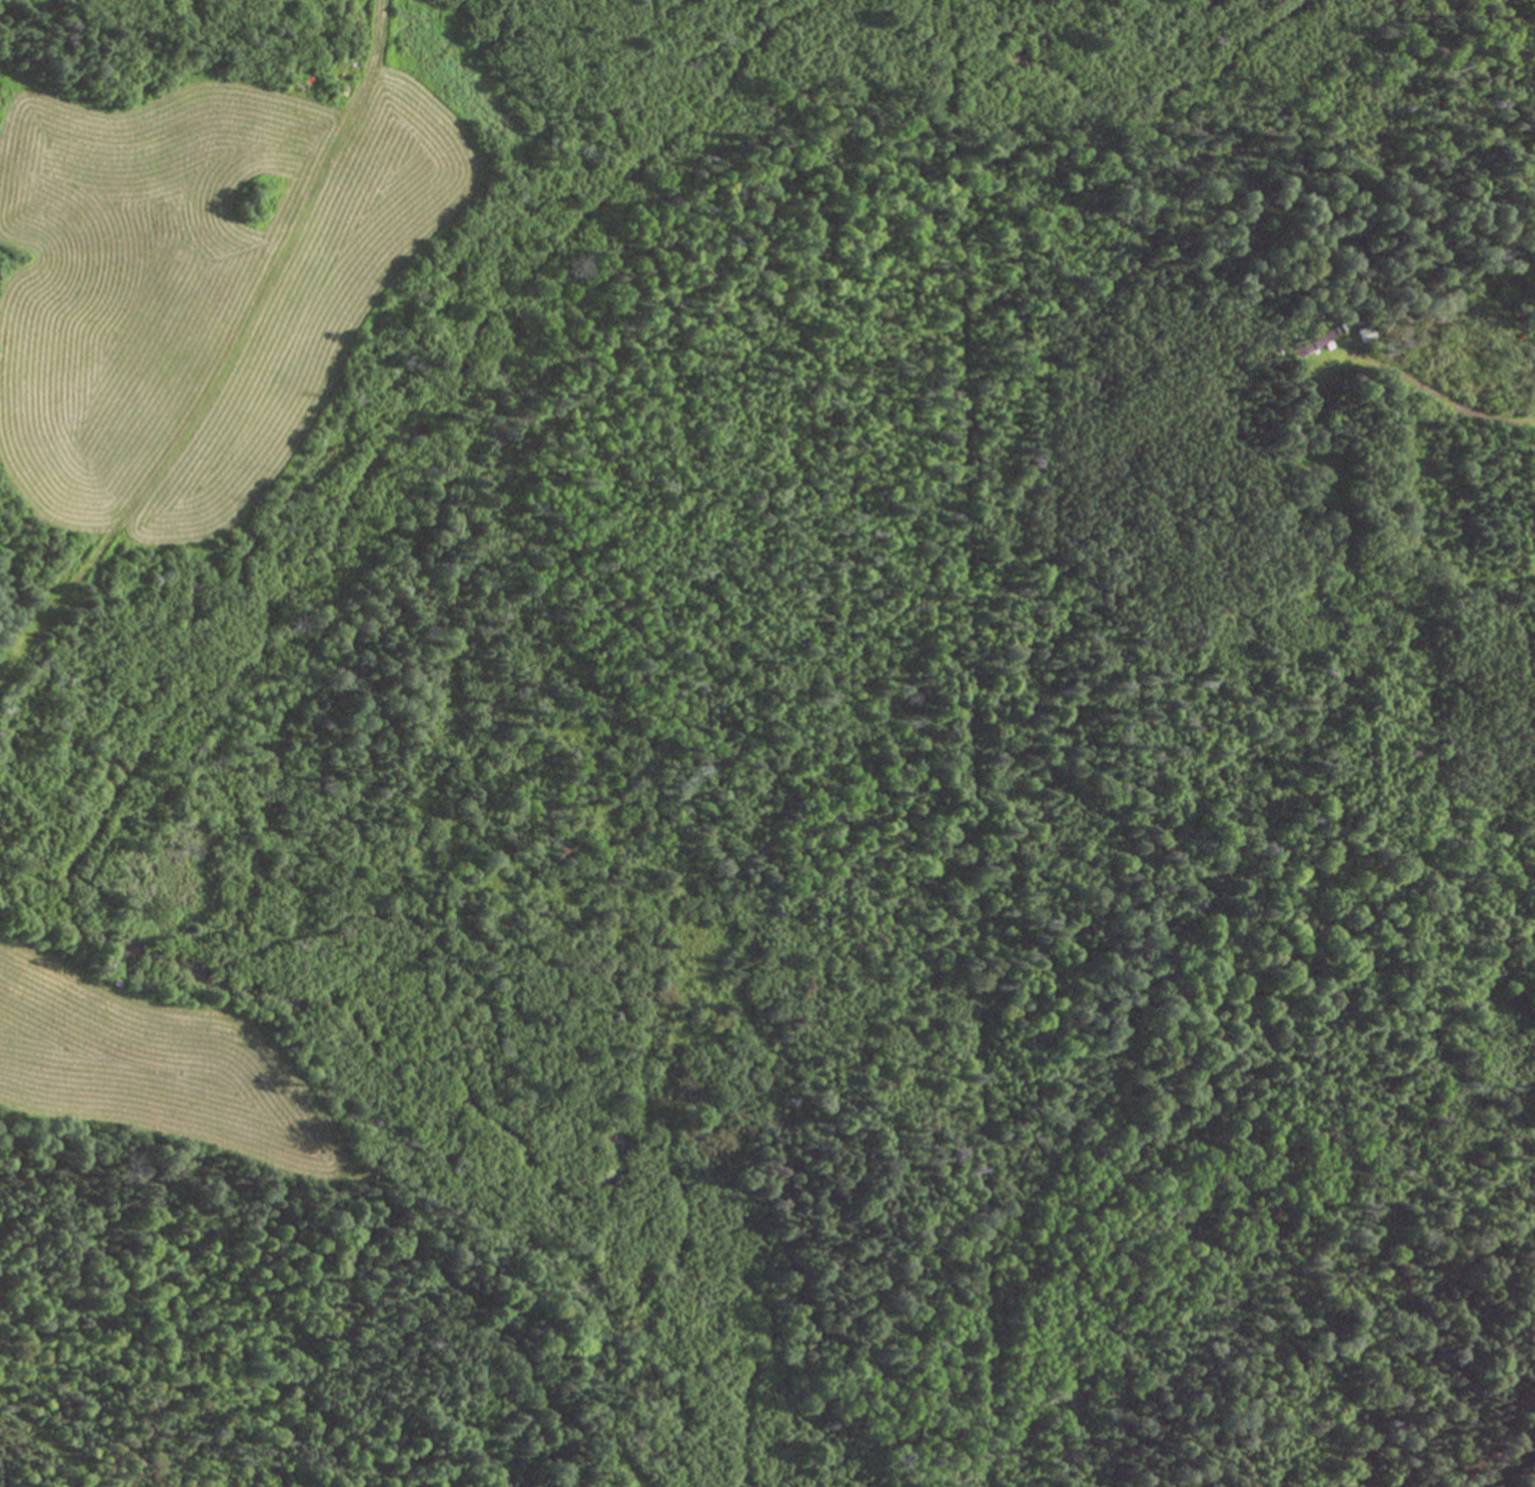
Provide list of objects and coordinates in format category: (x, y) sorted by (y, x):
building: (1362, 334)
building: (1308, 346)
road: (1439, 397)

